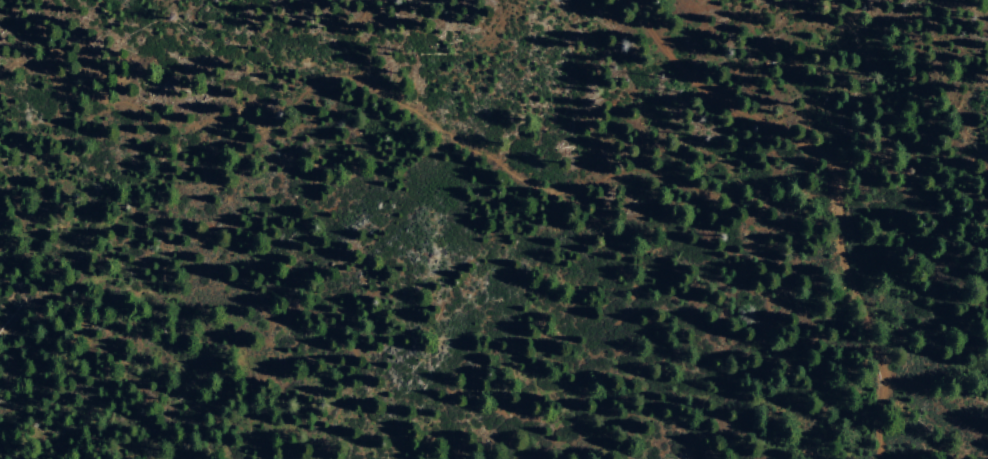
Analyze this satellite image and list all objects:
road: (707, 89)
road: (855, 299)

